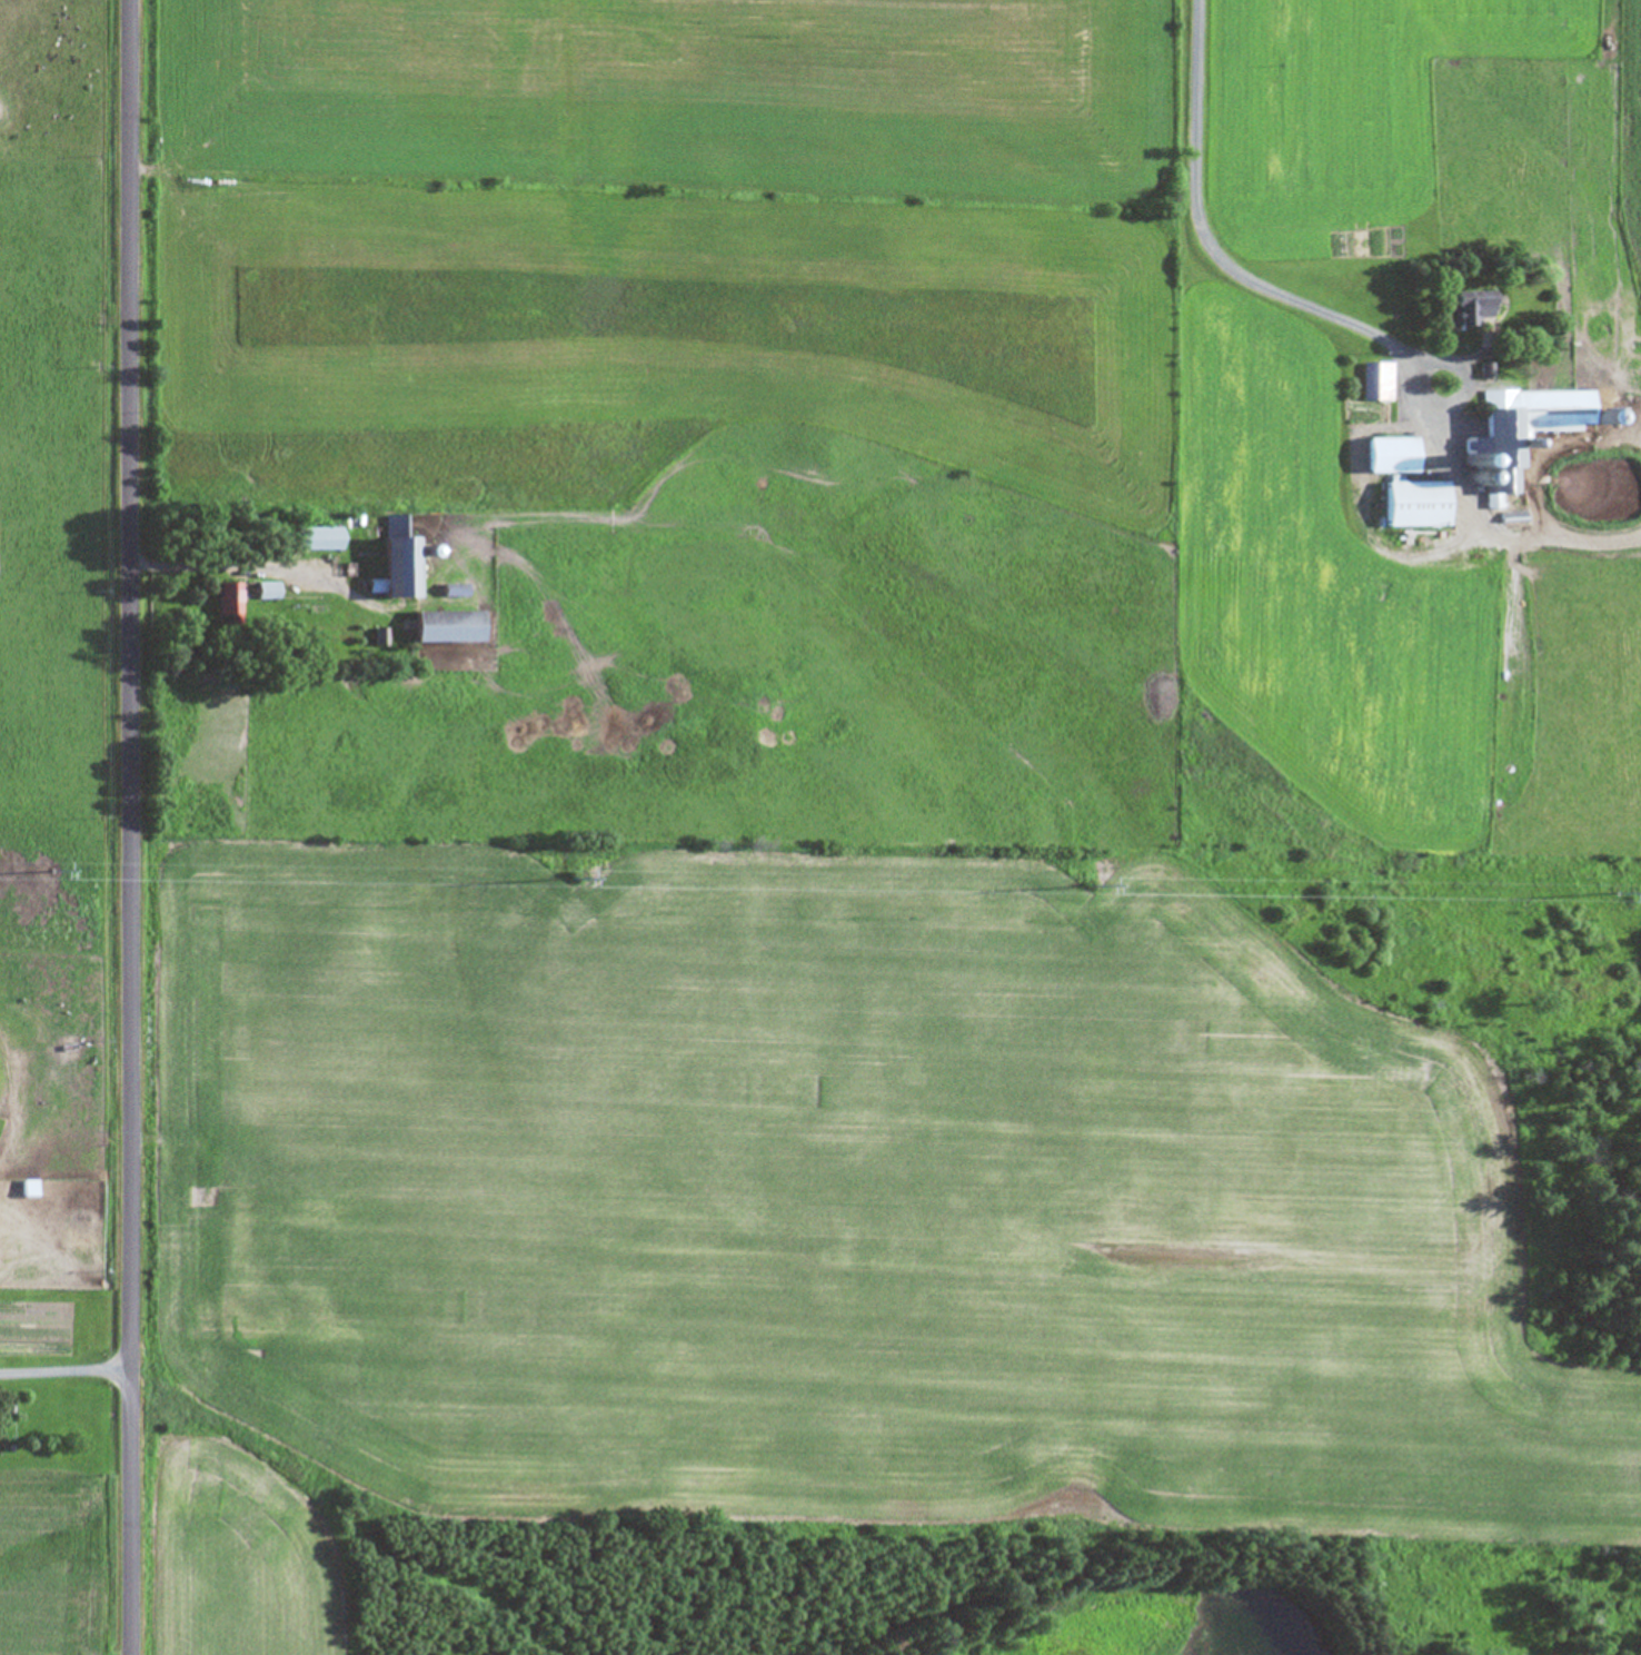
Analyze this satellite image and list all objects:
road: (1250, 276)
building: (1471, 307)
building: (1376, 381)
building: (1526, 429)
building: (1389, 455)
building: (1415, 504)
building: (315, 538)
building: (396, 557)
road: (225, 565)
building: (266, 591)
building: (229, 602)
building: (445, 626)
road: (131, 827)
building: (20, 1189)
road: (66, 1369)

